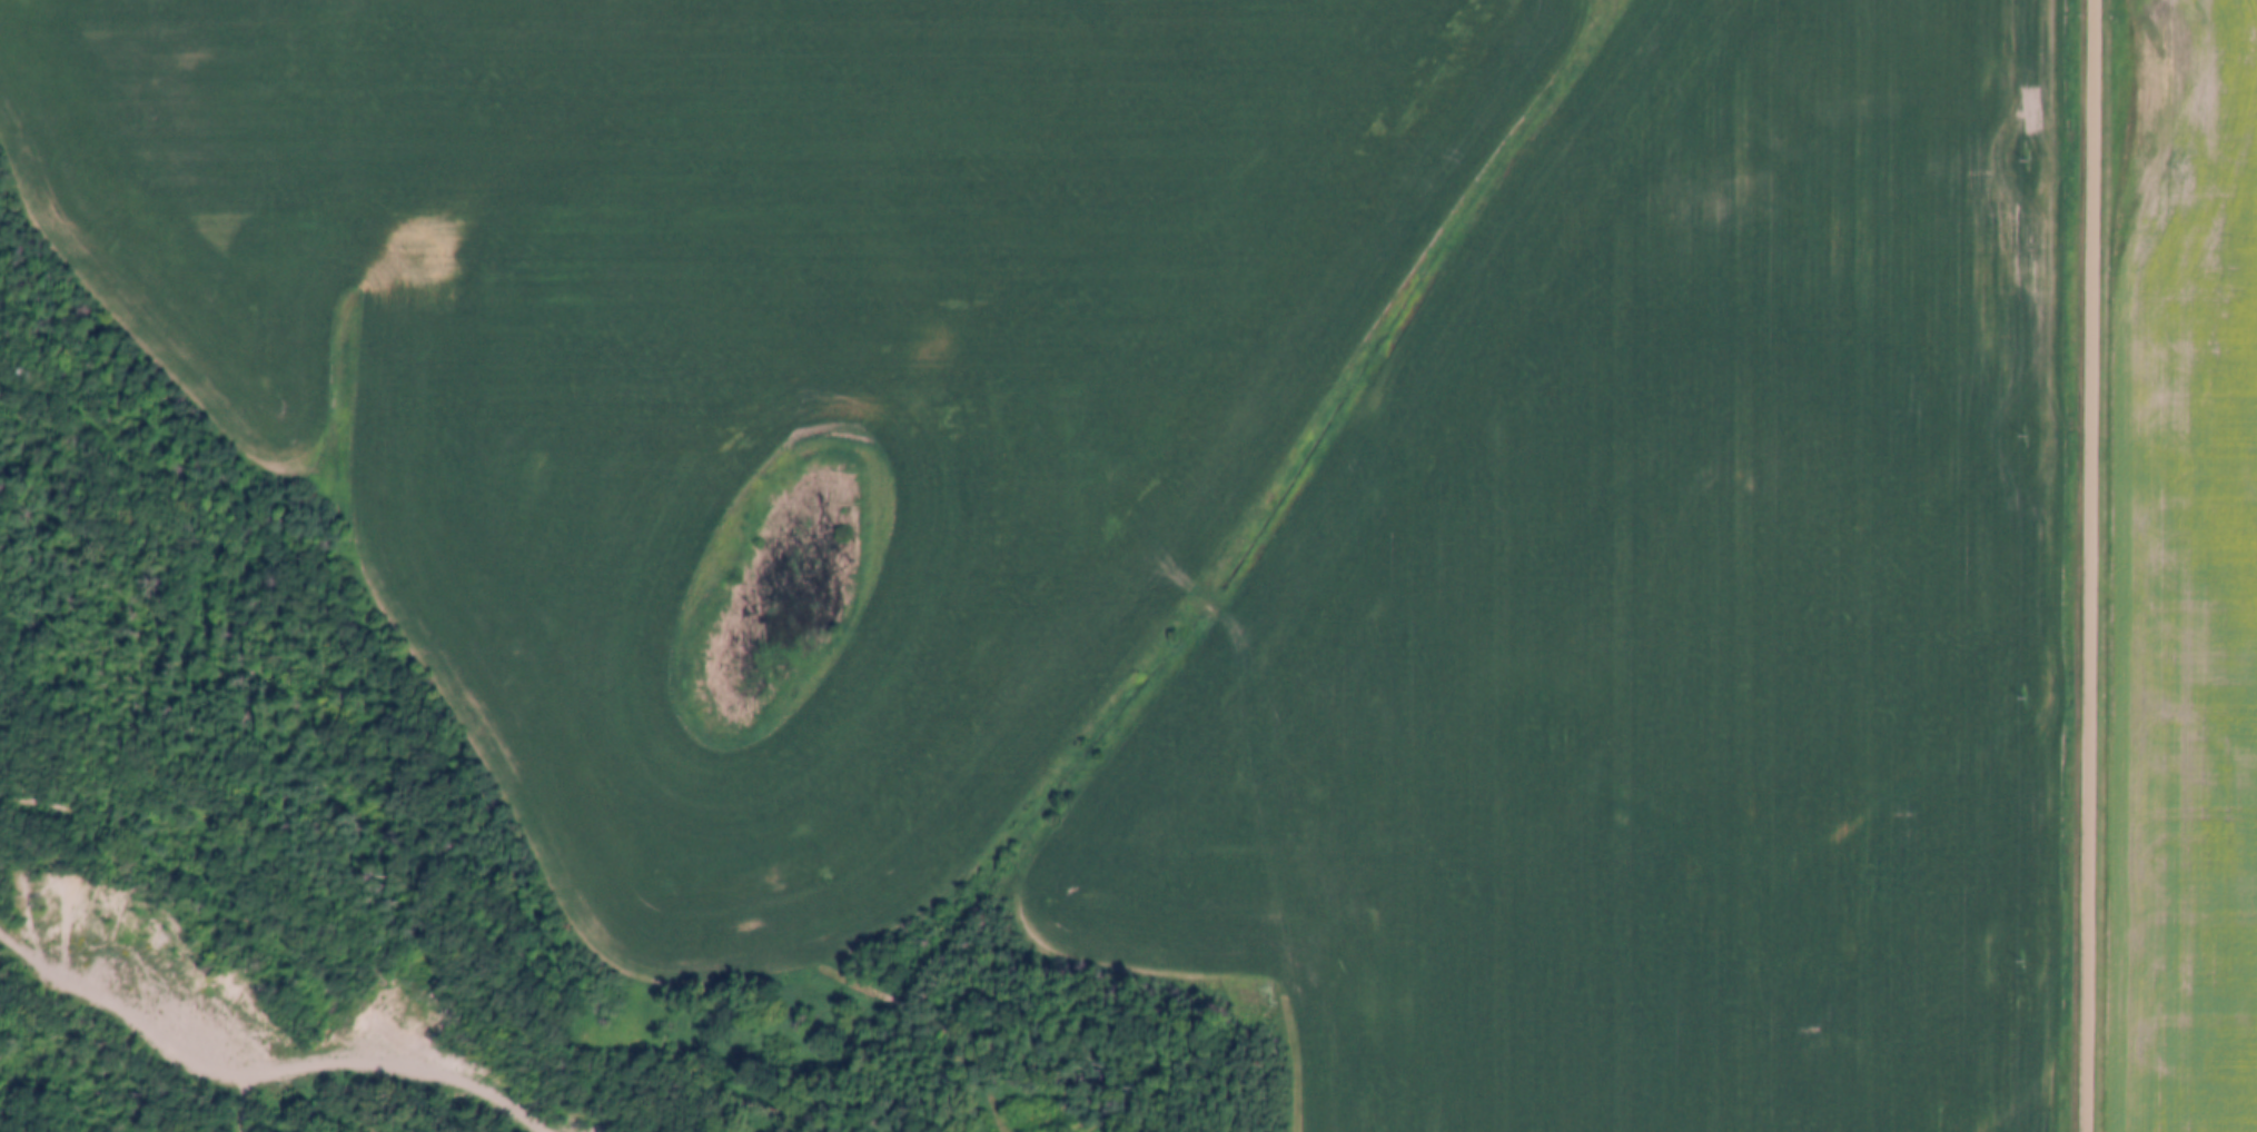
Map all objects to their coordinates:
road: (2101, 565)
road: (260, 1075)
road: (255, 1104)

